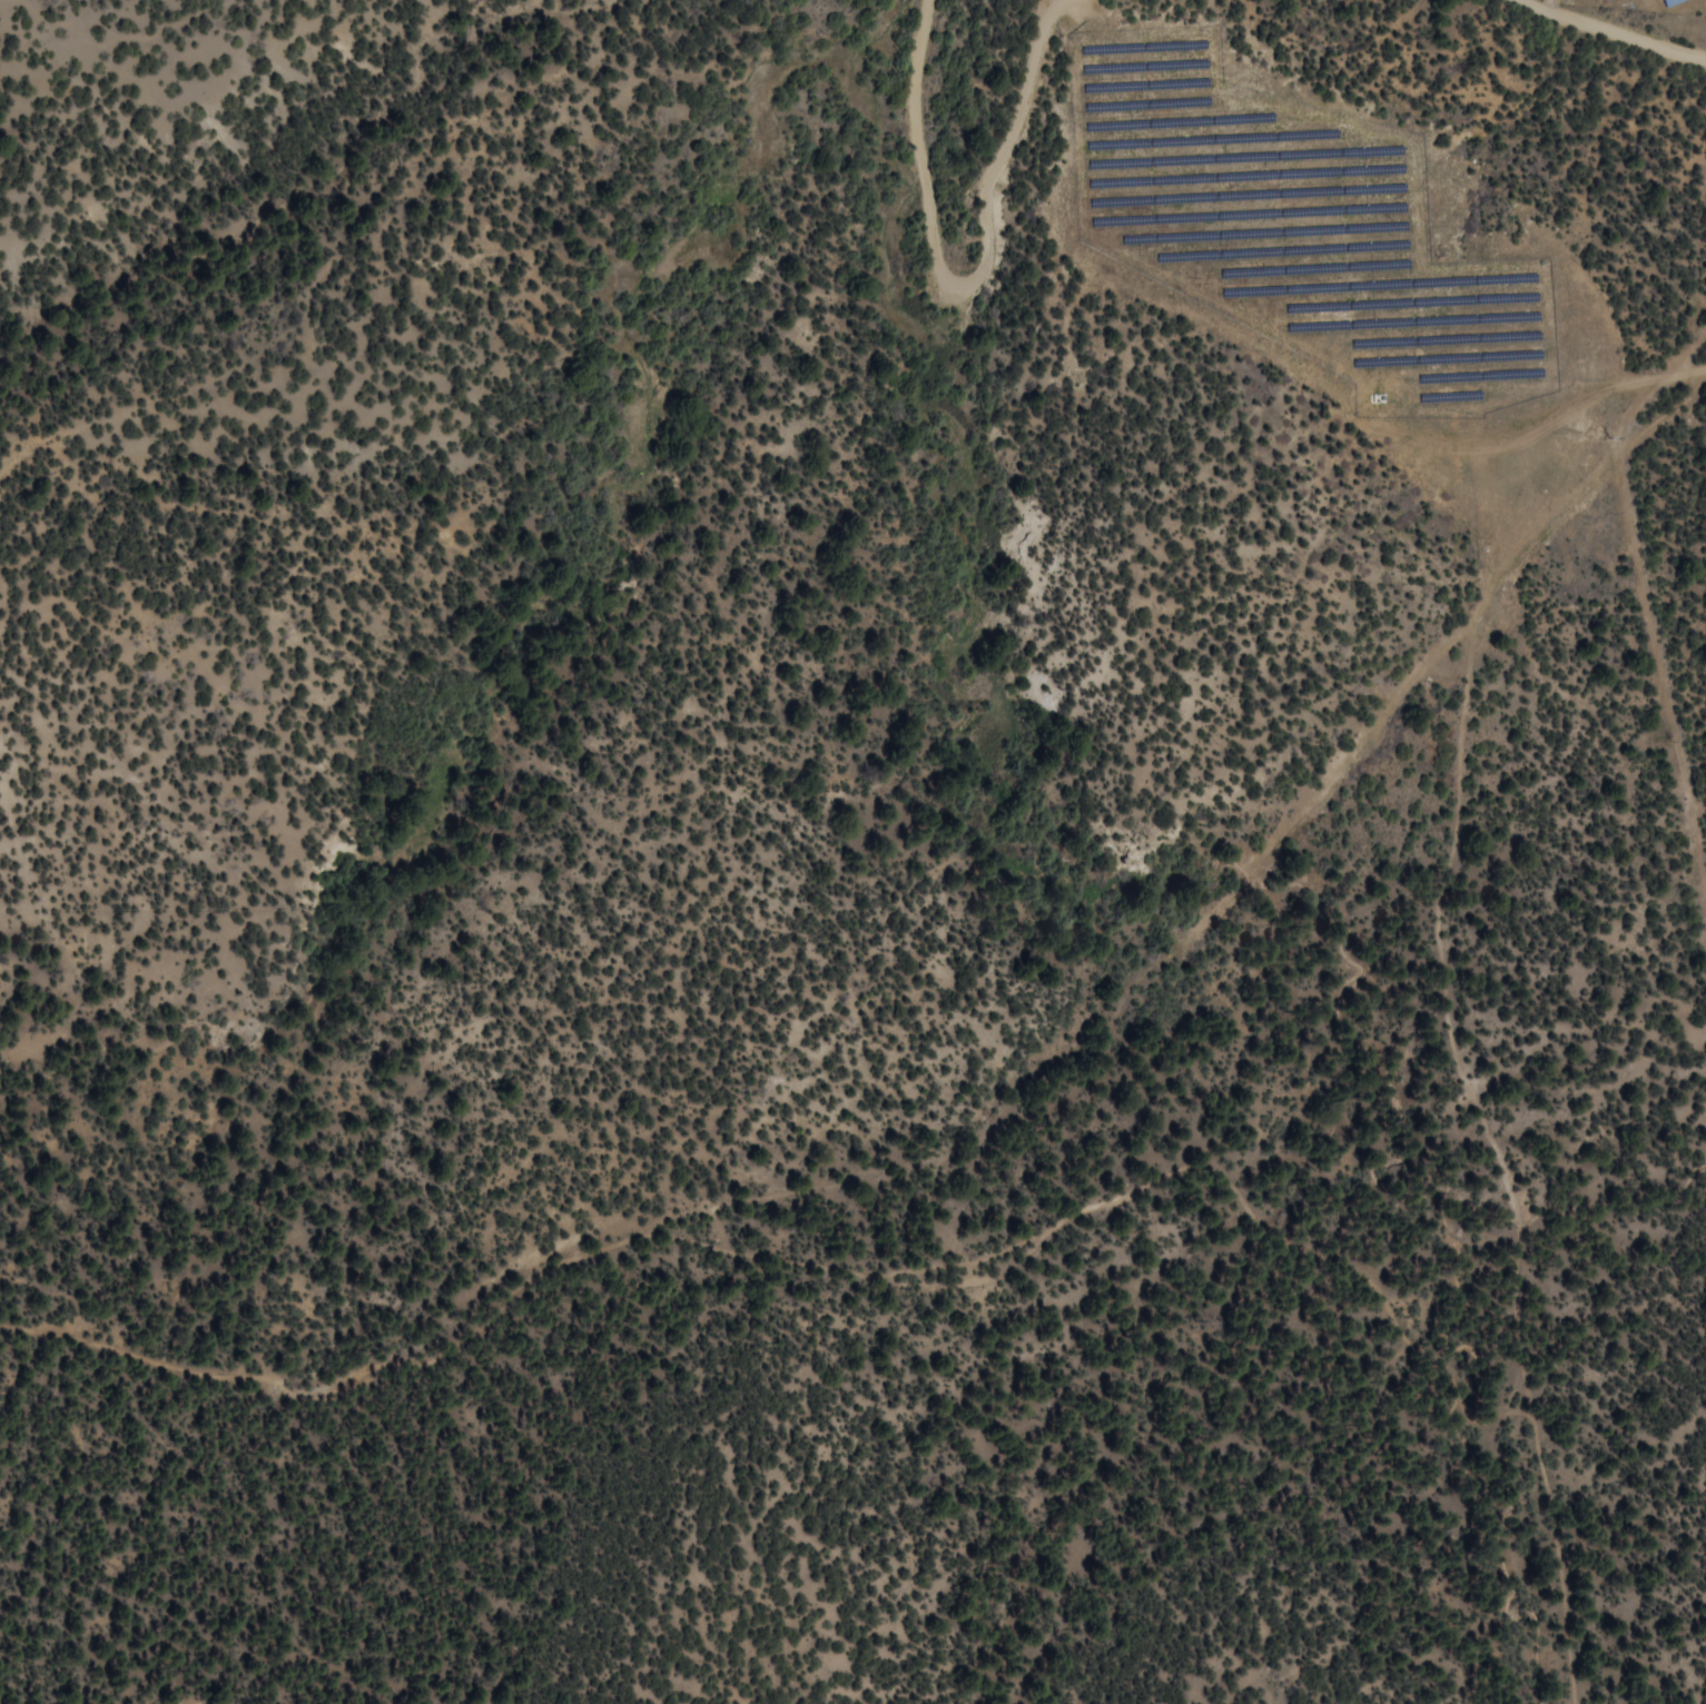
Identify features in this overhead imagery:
building: (1669, 2)
road: (1618, 34)
road: (968, 286)

